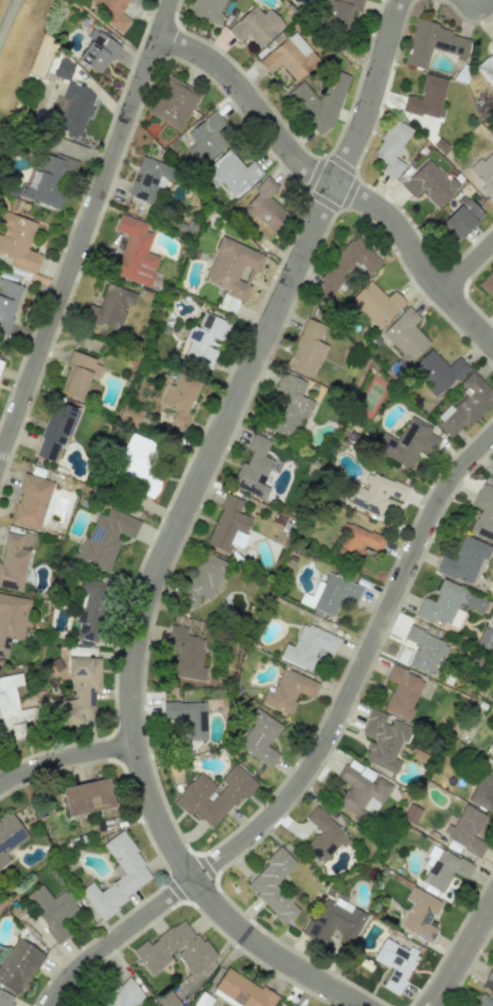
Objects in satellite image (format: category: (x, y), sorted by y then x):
road: (477, 0)
building: (207, 10)
building: (112, 12)
building: (339, 12)
road: (7, 17)
building: (255, 26)
building: (491, 42)
building: (432, 43)
building: (97, 51)
building: (289, 56)
building: (64, 69)
building: (486, 69)
building: (427, 98)
building: (303, 99)
building: (174, 103)
building: (75, 109)
building: (206, 138)
building: (391, 147)
building: (233, 173)
building: (485, 174)
building: (149, 178)
building: (48, 180)
building: (428, 183)
road: (330, 185)
building: (266, 206)
building: (462, 217)
road: (87, 233)
building: (18, 244)
building: (134, 251)
building: (232, 268)
building: (343, 268)
road: (470, 272)
building: (487, 284)
building: (7, 303)
building: (375, 304)
building: (111, 306)
building: (405, 335)
building: (204, 339)
building: (306, 348)
building: (0, 362)
building: (438, 371)
building: (78, 374)
building: (179, 400)
building: (289, 405)
building: (466, 405)
building: (129, 415)
building: (54, 431)
building: (407, 443)
building: (492, 462)
building: (137, 463)
building: (253, 468)
building: (492, 477)
building: (375, 493)
building: (31, 501)
building: (483, 513)
building: (228, 525)
road: (178, 532)
building: (105, 537)
building: (357, 542)
building: (12, 559)
building: (463, 561)
building: (204, 578)
building: (334, 593)
building: (310, 596)
building: (449, 604)
building: (90, 610)
building: (11, 620)
building: (485, 639)
building: (308, 646)
building: (424, 649)
building: (185, 653)
building: (288, 690)
building: (402, 692)
building: (77, 693)
building: (13, 710)
building: (187, 718)
building: (259, 738)
building: (383, 740)
building: (490, 747)
road: (317, 757)
road: (66, 758)
building: (483, 790)
building: (360, 791)
building: (86, 796)
building: (213, 796)
building: (411, 813)
building: (466, 830)
building: (323, 835)
building: (9, 836)
building: (126, 859)
building: (444, 868)
building: (273, 885)
building: (52, 910)
building: (419, 915)
building: (333, 921)
building: (174, 948)
road: (463, 954)
building: (395, 963)
building: (18, 965)
building: (490, 975)
building: (241, 990)
building: (124, 995)
building: (6, 999)
building: (168, 1000)
building: (481, 1000)
building: (292, 1005)

